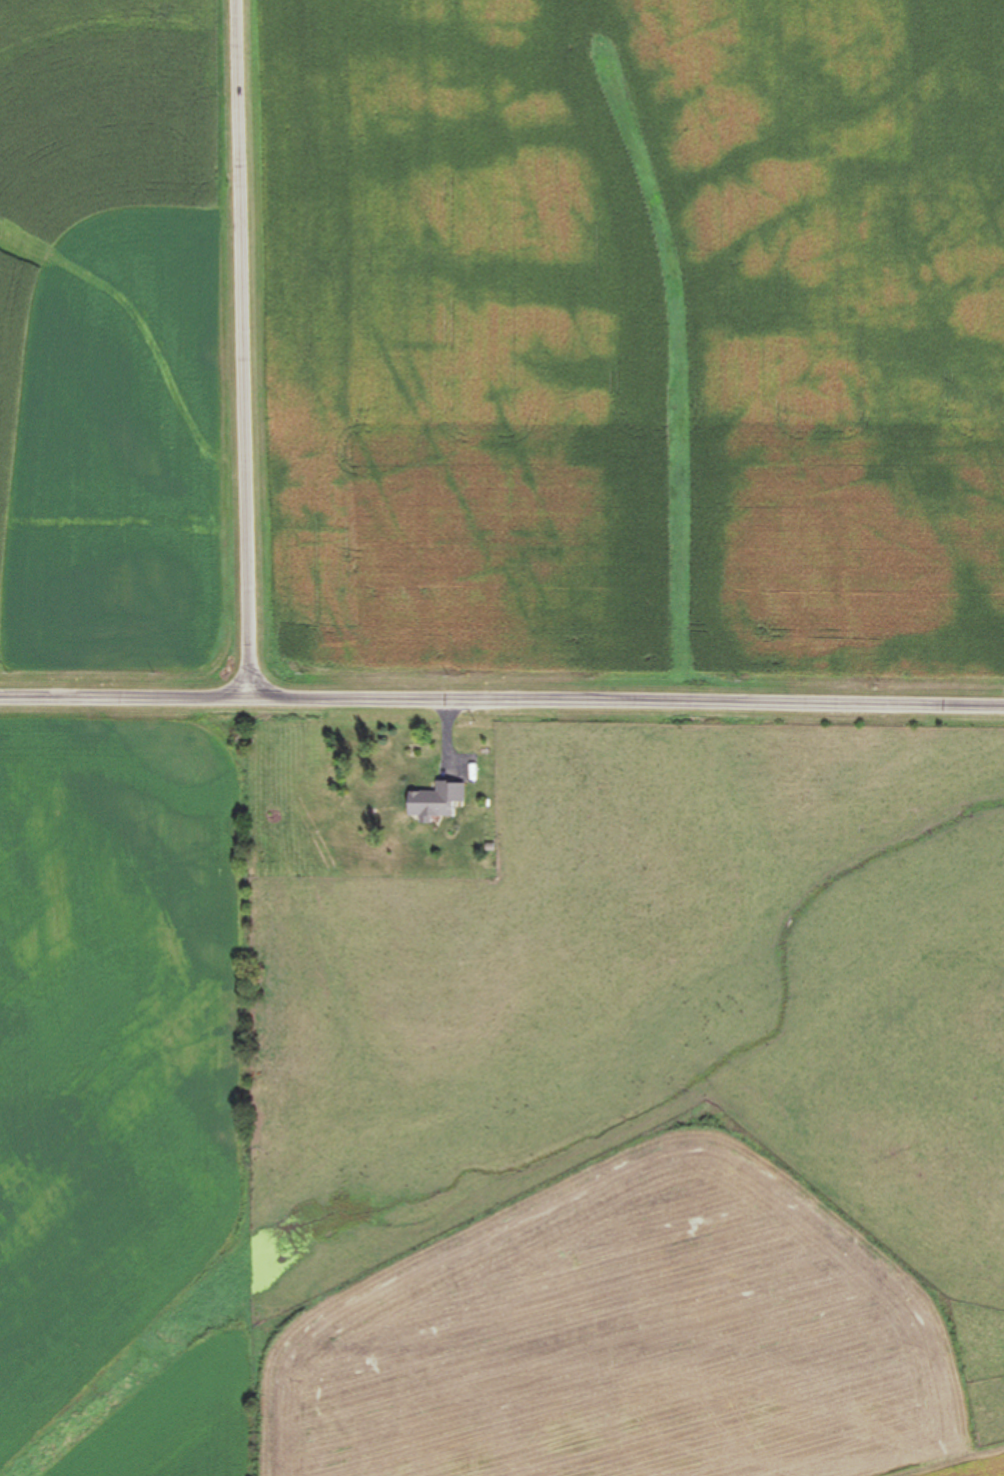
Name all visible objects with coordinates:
road: (214, 338)
road: (502, 680)
building: (431, 800)

